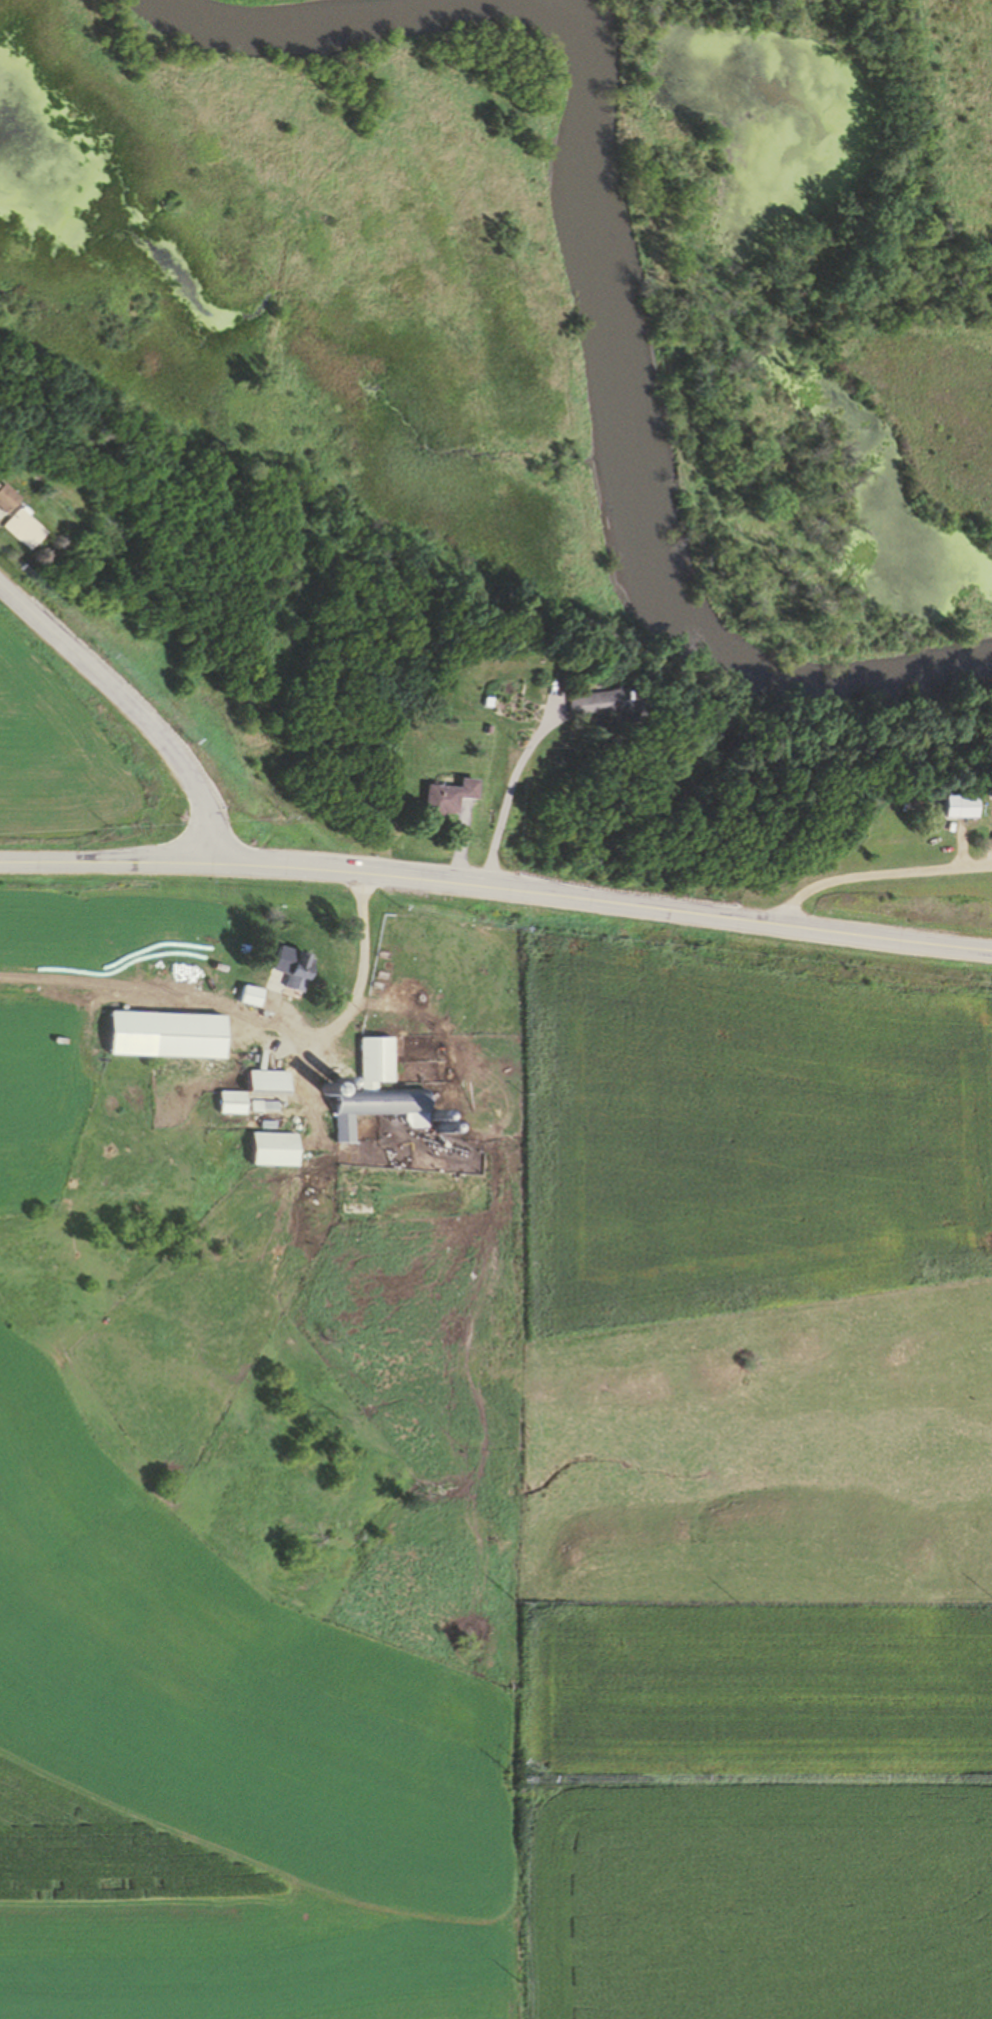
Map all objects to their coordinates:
river: (604, 304)
building: (5, 497)
building: (21, 528)
building: (590, 704)
road: (129, 710)
building: (980, 790)
road: (505, 795)
building: (442, 798)
building: (947, 807)
road: (970, 821)
road: (460, 844)
road: (875, 873)
road: (497, 887)
building: (288, 970)
road: (63, 991)
building: (245, 996)
road: (307, 1031)
building: (158, 1035)
building: (260, 1083)
building: (365, 1093)
building: (225, 1104)
building: (265, 1149)
road: (283, 1884)

